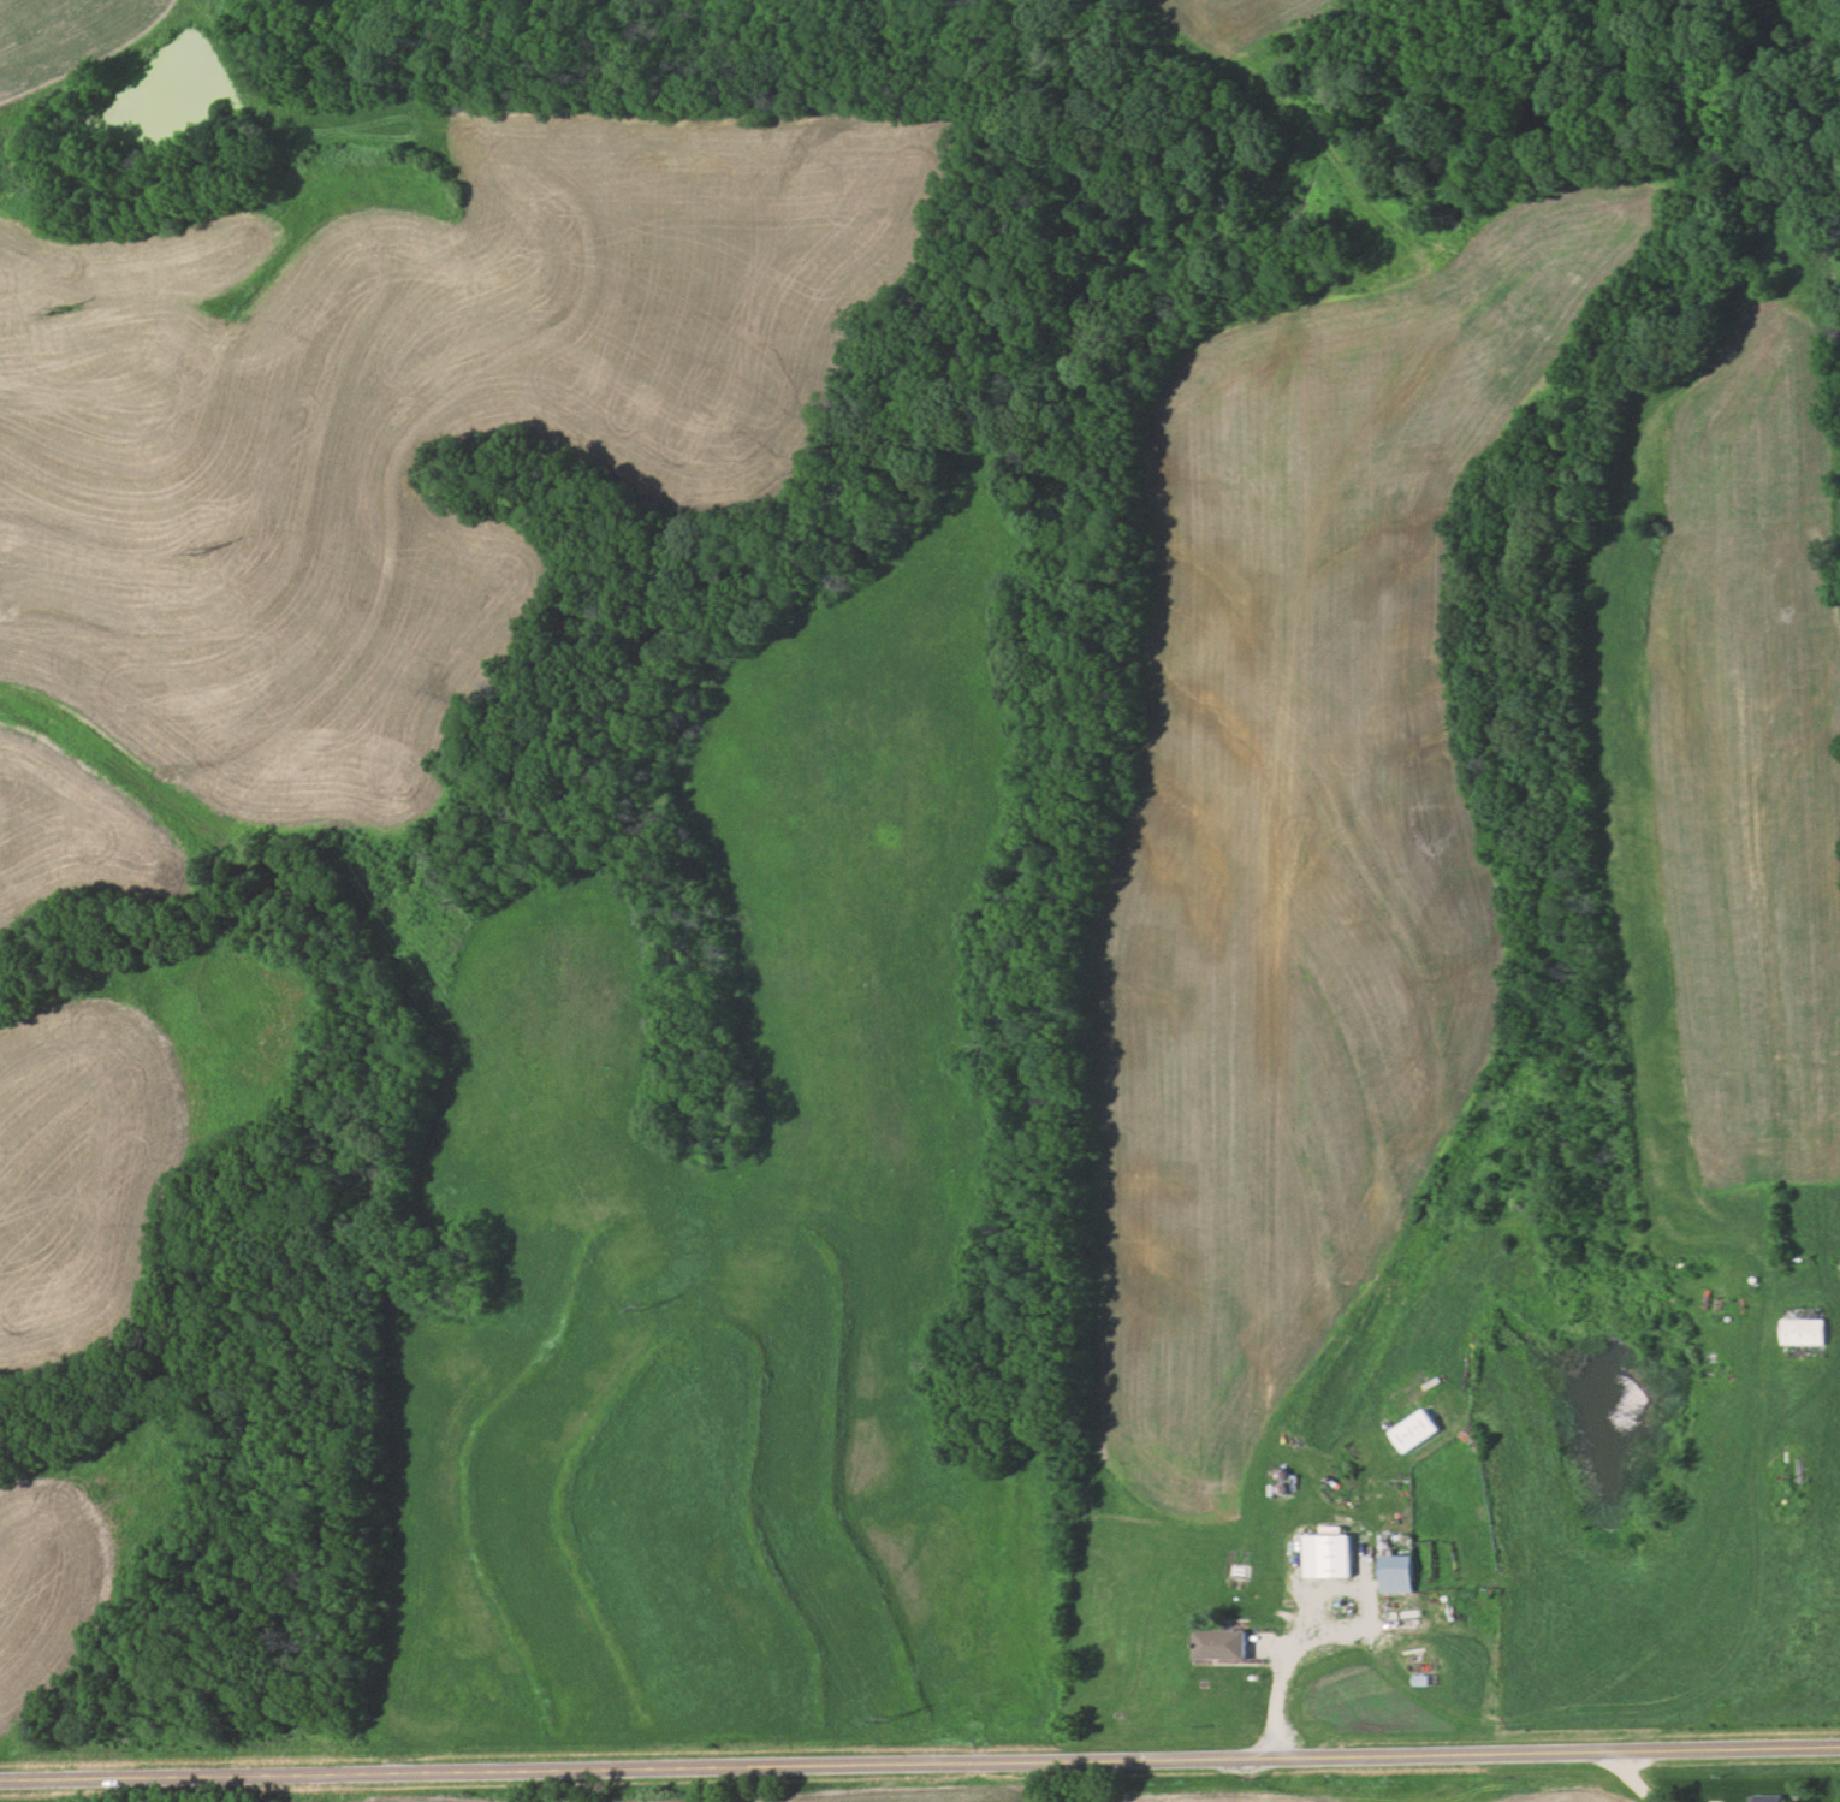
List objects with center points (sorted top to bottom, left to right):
power tower: (60, 306)
power tower: (201, 551)
power tower: (643, 1308)
building: (1803, 1333)
building: (1415, 1431)
building: (1476, 1439)
building: (1328, 1558)
building: (1395, 1565)
building: (1218, 1646)
road: (1280, 1660)
power tower: (888, 1721)
road: (919, 1761)
road: (1631, 1777)
building: (1768, 1798)

